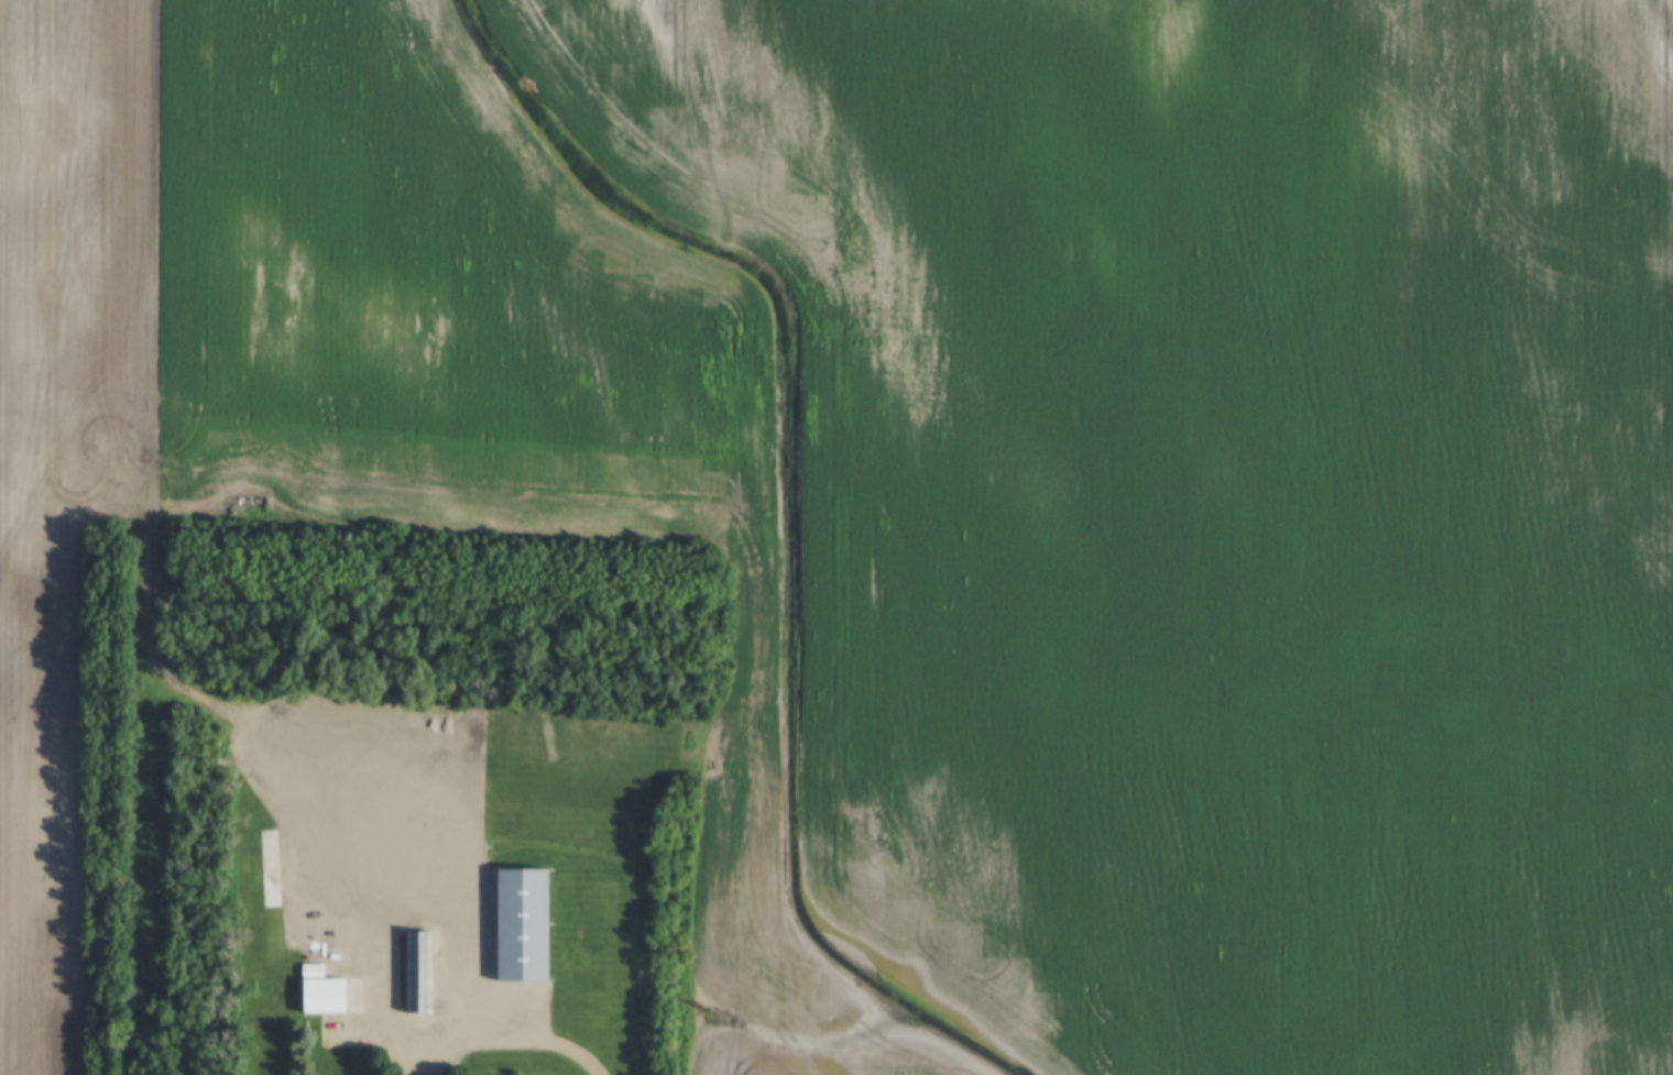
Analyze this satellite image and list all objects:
road: (363, 775)
building: (269, 837)
silo: (269, 837)
building: (371, 848)
silo: (371, 848)
building: (393, 848)
silo: (393, 848)
building: (270, 851)
silo: (270, 851)
building: (435, 854)
silo: (435, 854)
building: (270, 866)
silo: (270, 866)
building: (362, 868)
silo: (362, 868)
building: (270, 882)
silo: (270, 882)
building: (358, 888)
silo: (358, 888)
building: (270, 899)
silo: (270, 899)
building: (518, 924)
building: (309, 970)
building: (417, 974)
building: (320, 997)
road: (506, 1034)

